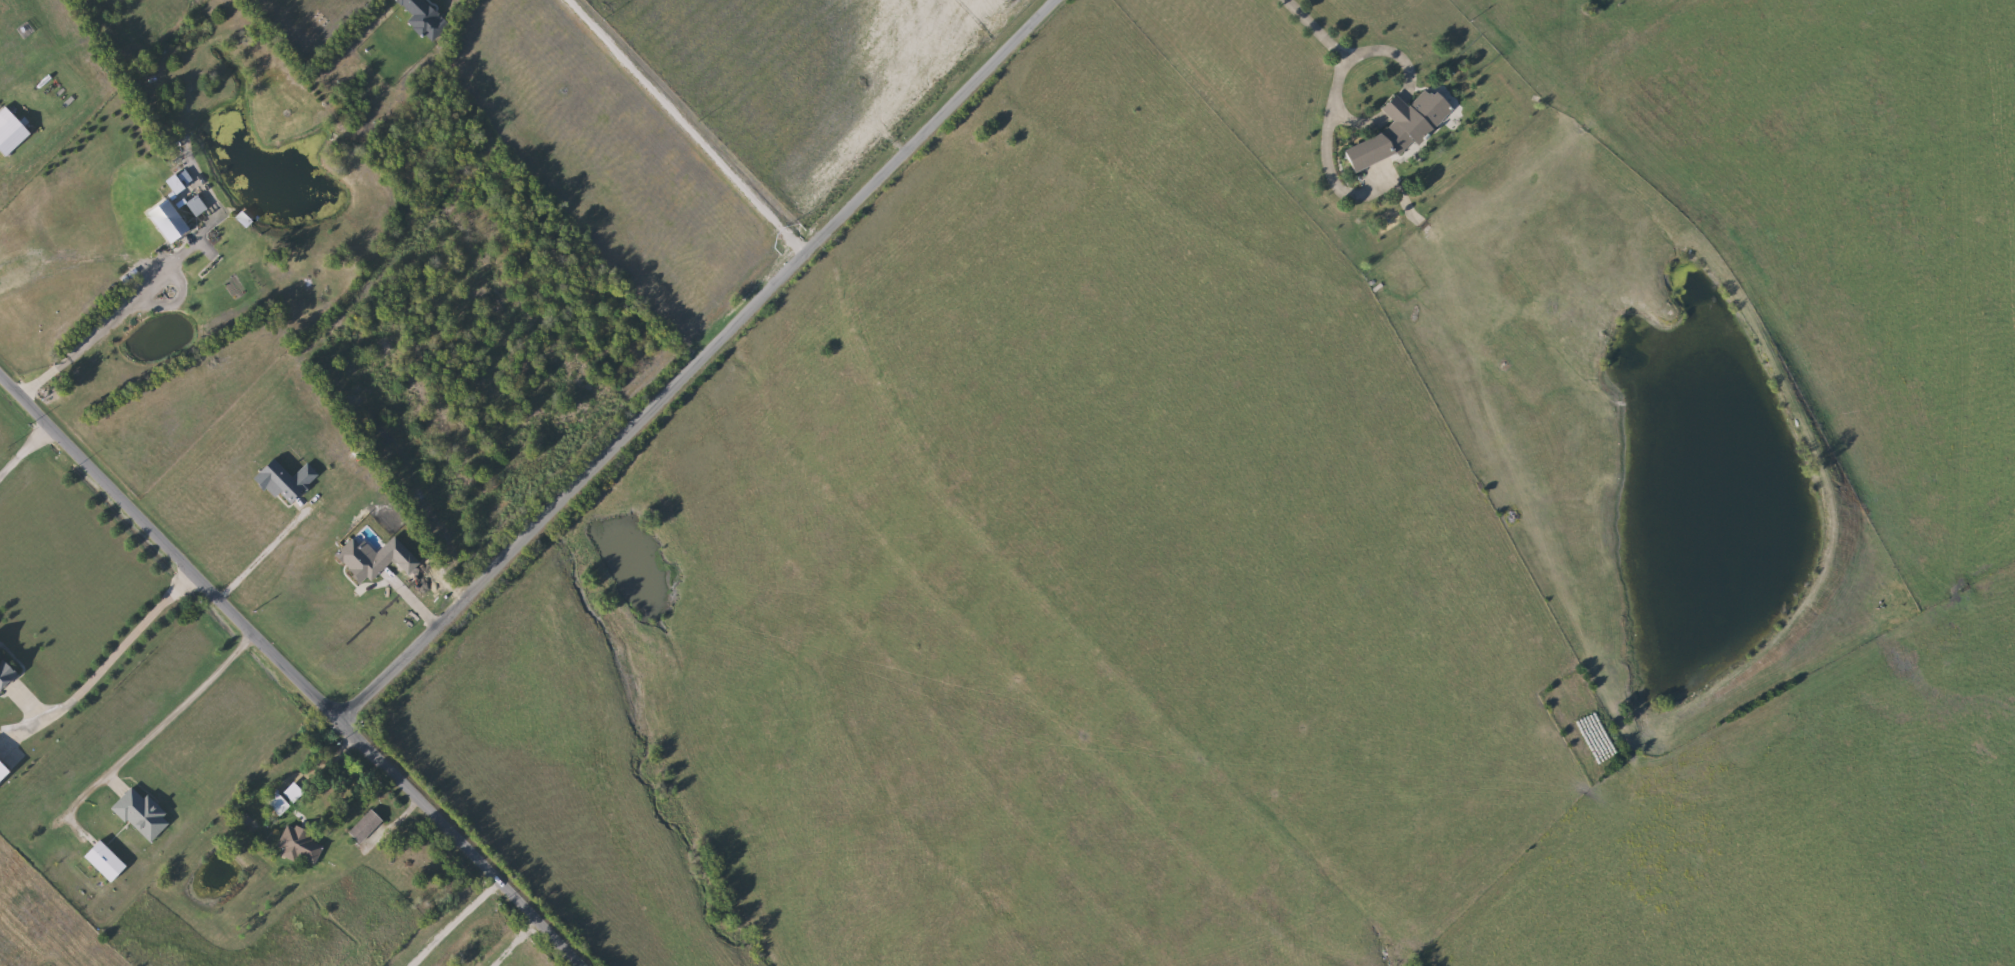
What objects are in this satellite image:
road: (1337, 91)
road: (696, 121)
building: (1404, 130)
building: (171, 222)
road: (107, 326)
road: (694, 358)
road: (25, 452)
road: (262, 556)
road: (123, 644)
road: (293, 672)
building: (6, 675)
road: (184, 701)
building: (4, 773)
building: (295, 793)
building: (325, 801)
building: (279, 803)
building: (144, 815)
building: (367, 826)
building: (107, 863)
road: (456, 921)
road: (517, 942)

